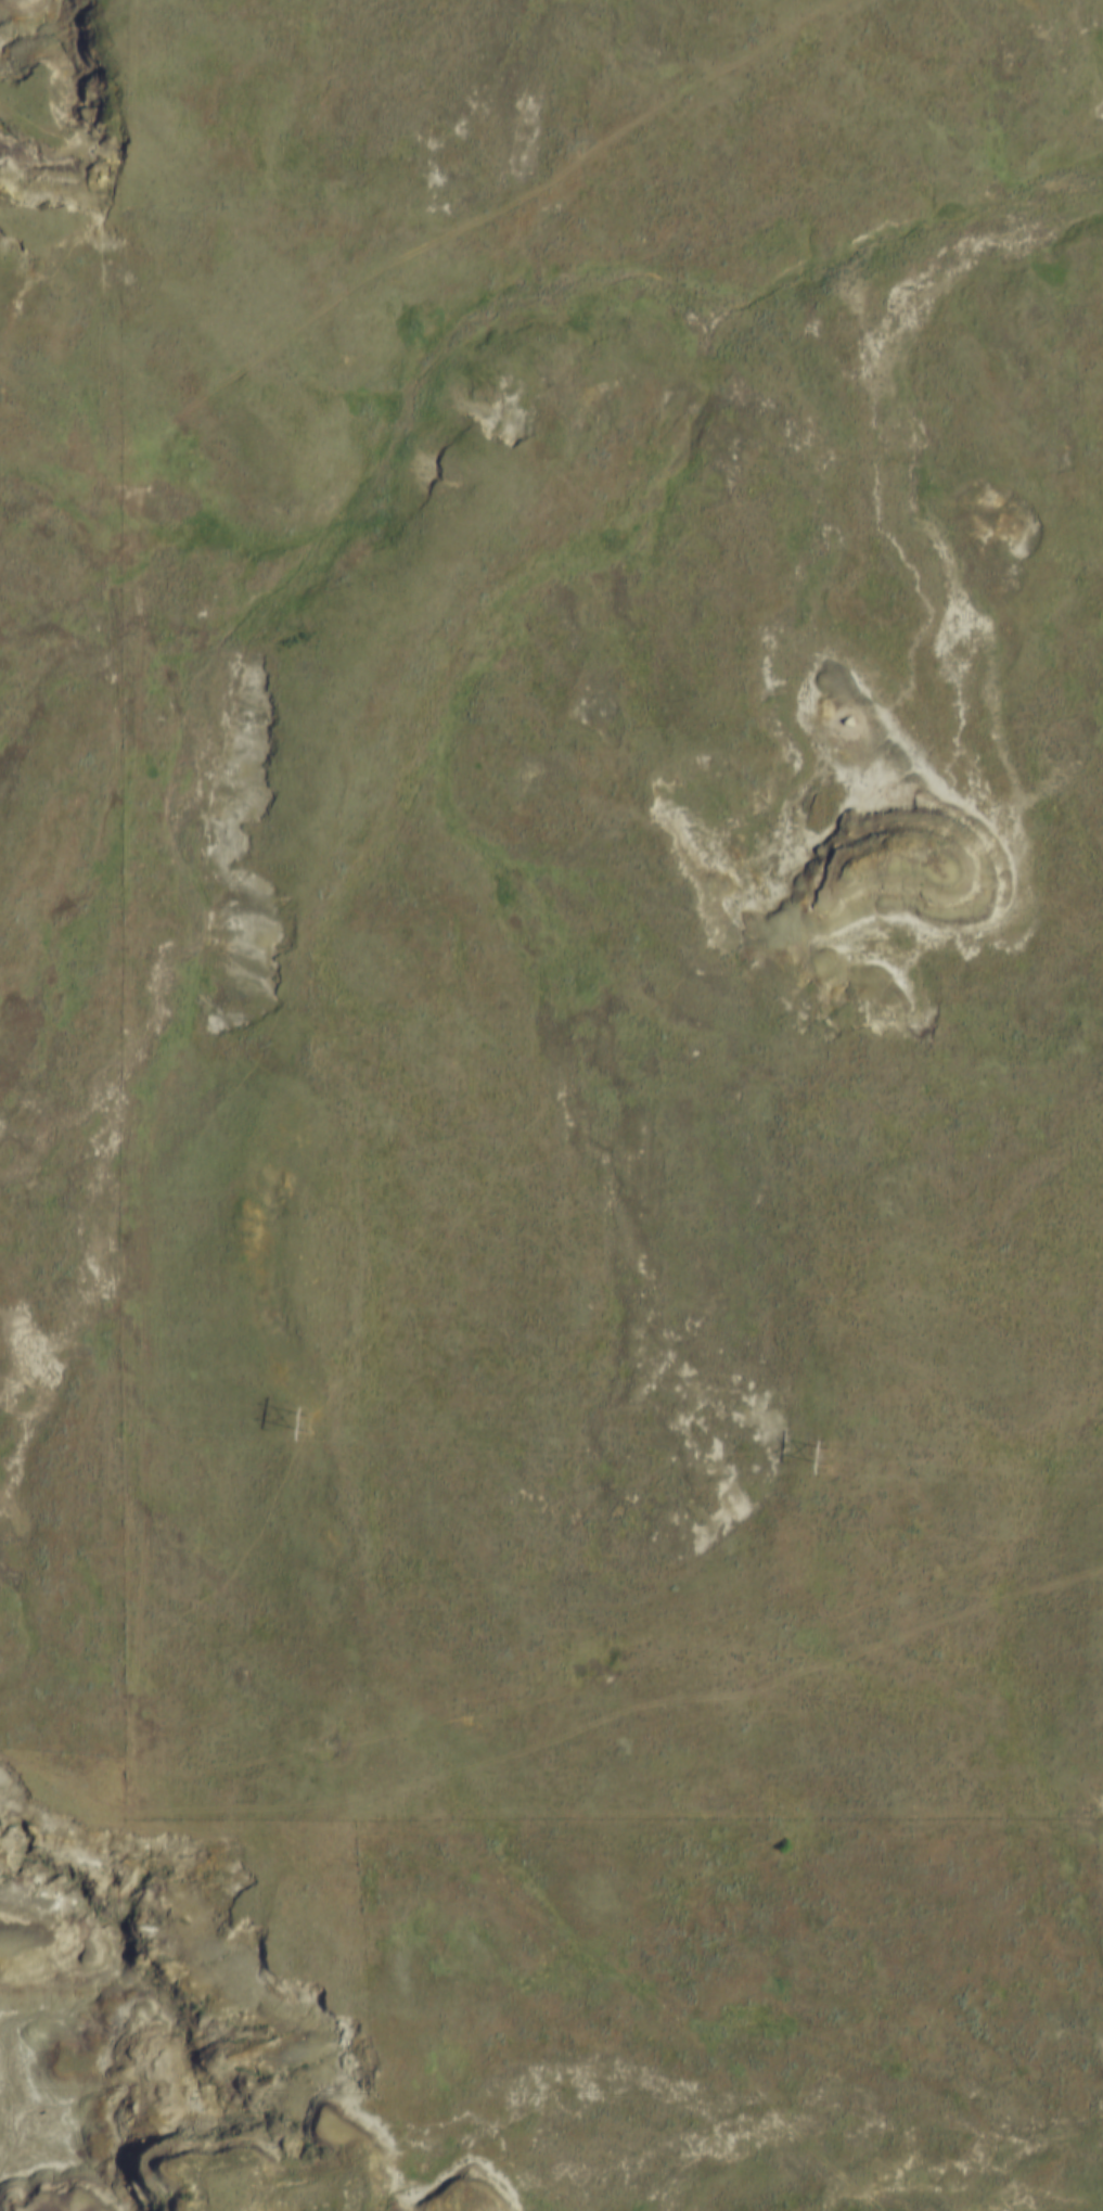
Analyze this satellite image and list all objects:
road: (419, 254)
power tower: (310, 1422)
power tower: (832, 1457)

